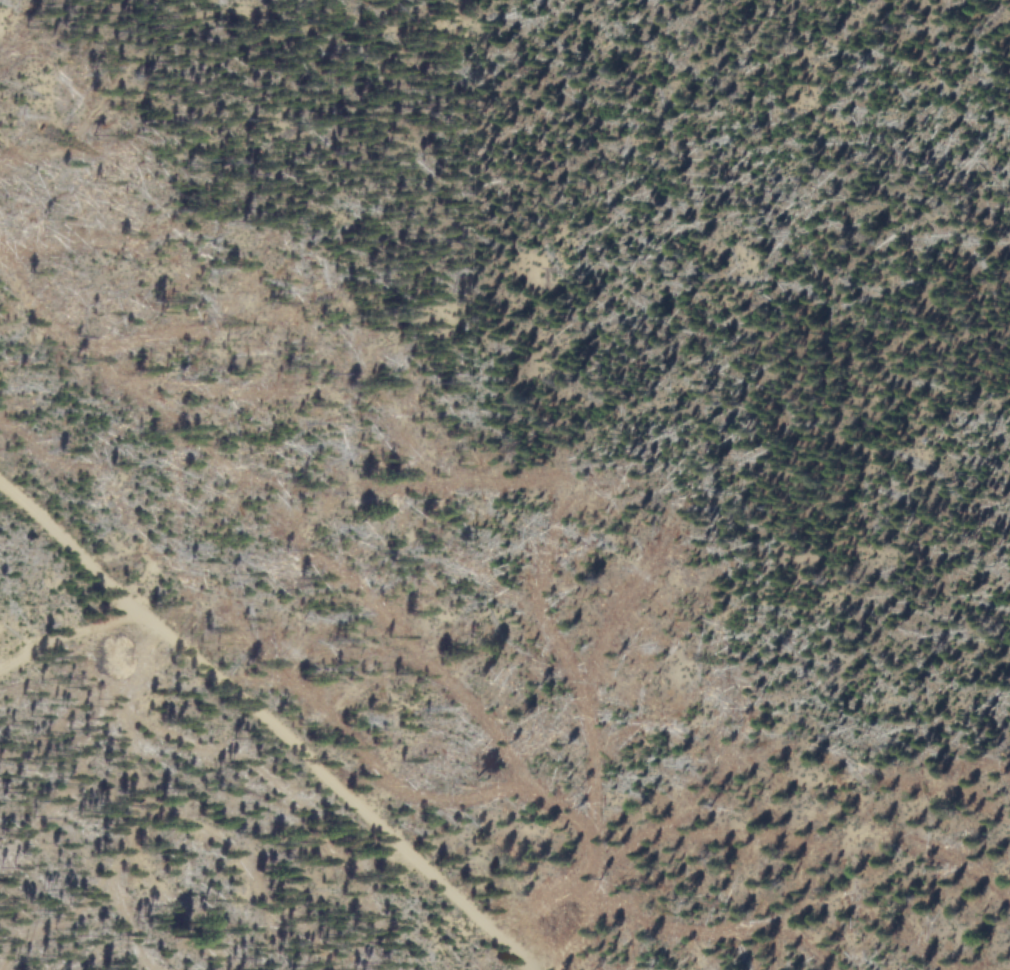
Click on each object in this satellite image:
road: (53, 546)
road: (43, 641)
road: (315, 782)

